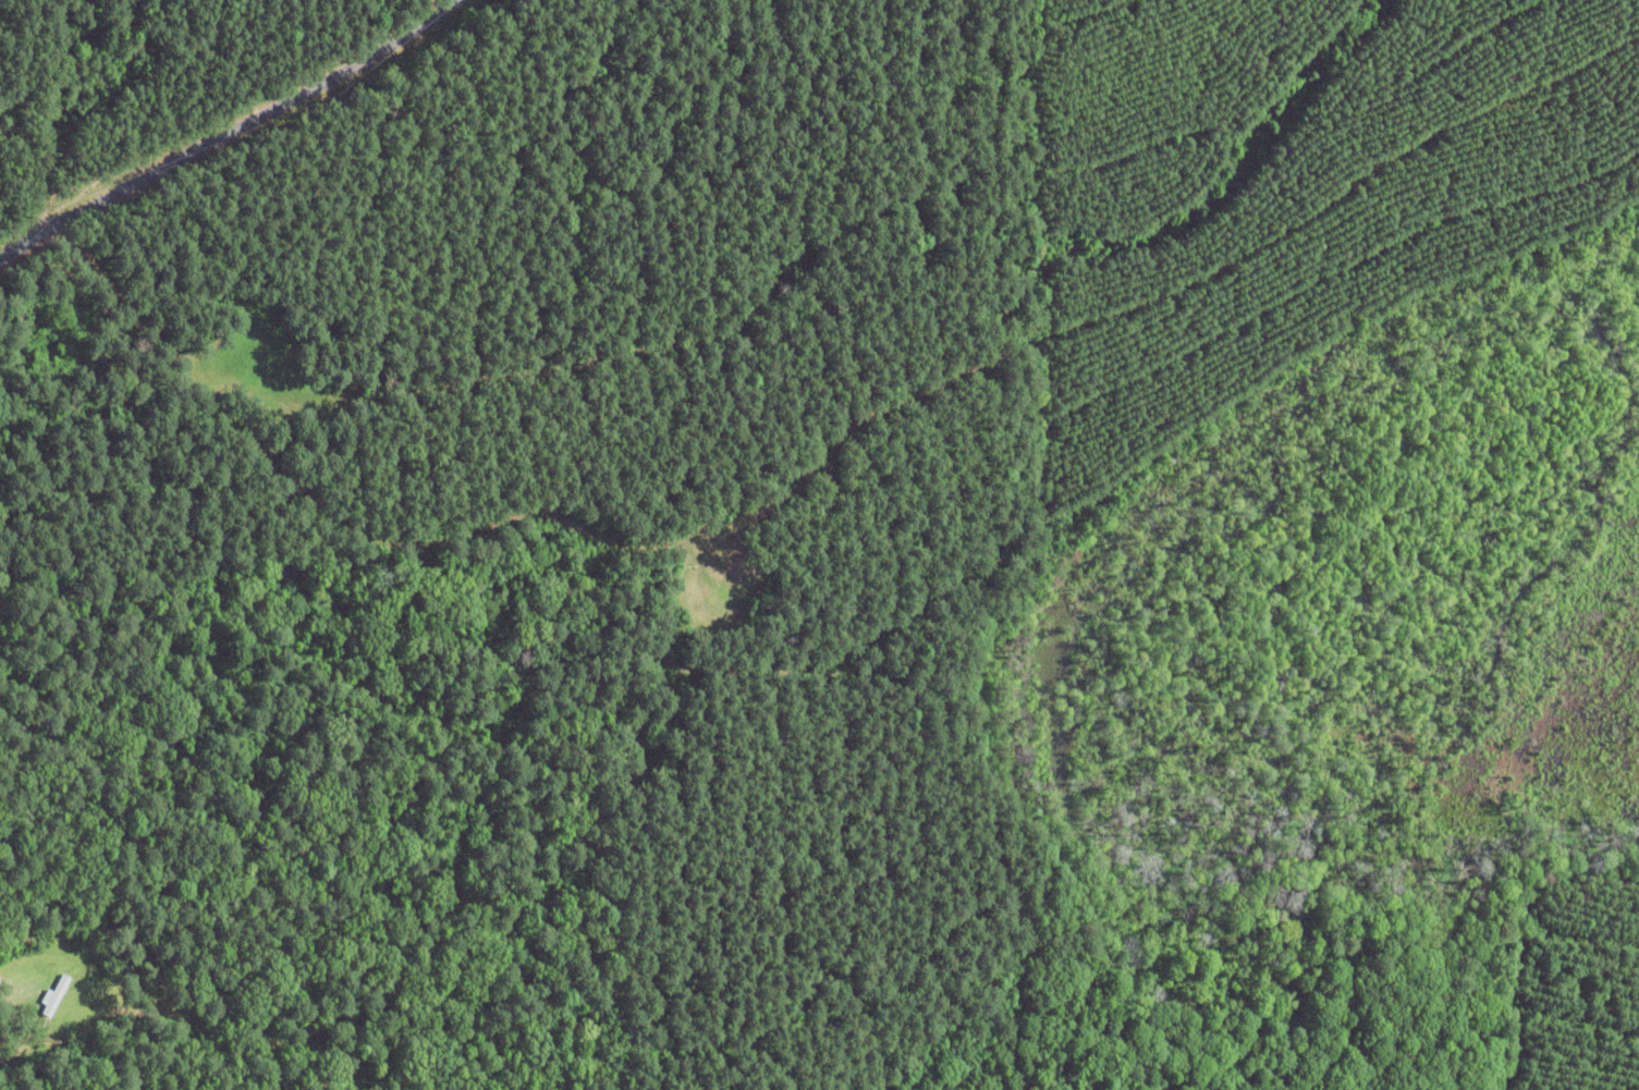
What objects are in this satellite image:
road: (228, 133)

